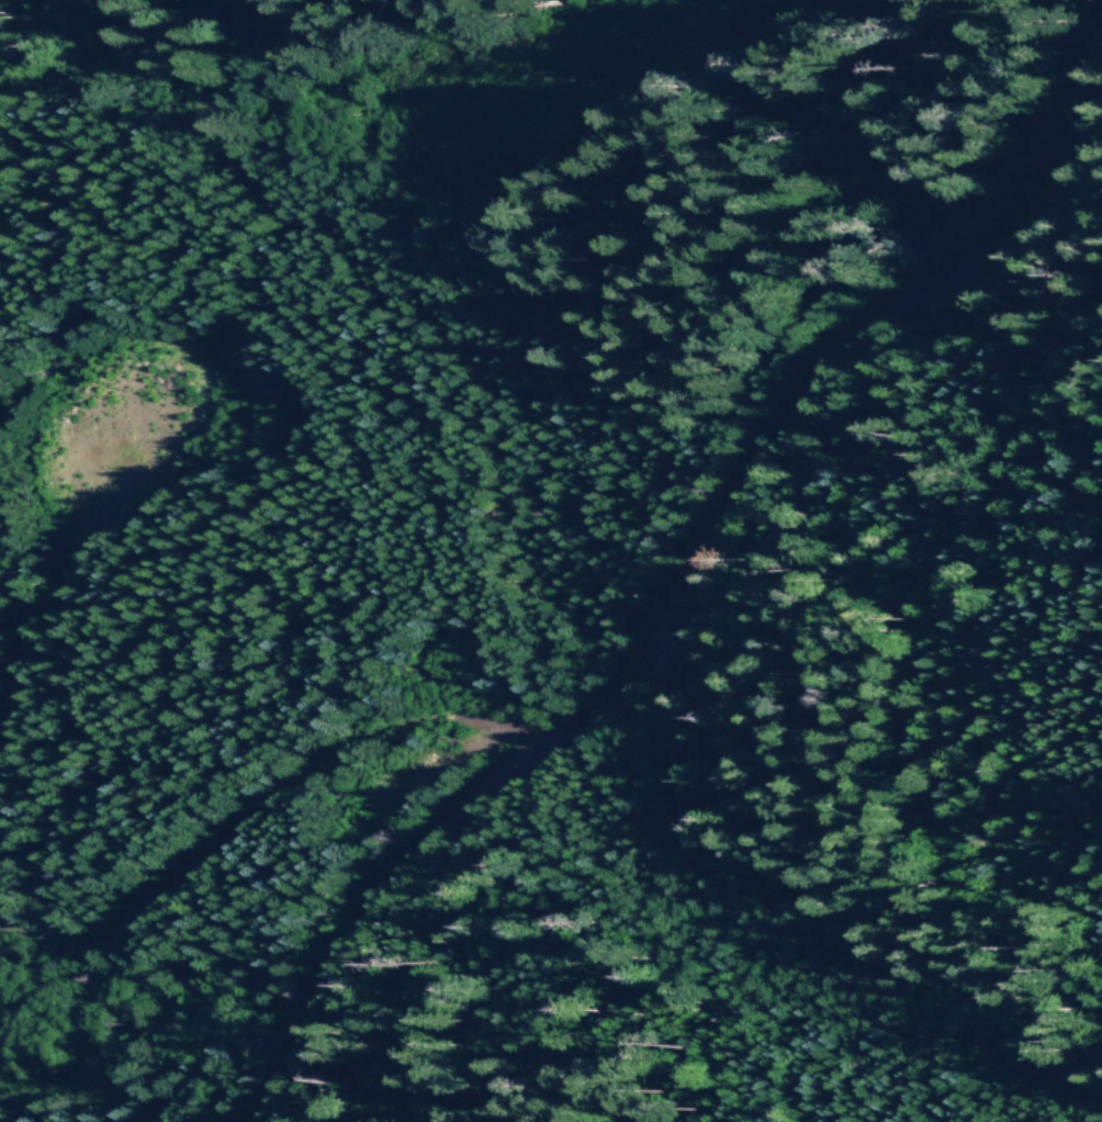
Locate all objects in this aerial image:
road: (691, 590)
road: (10, 638)
road: (270, 800)

